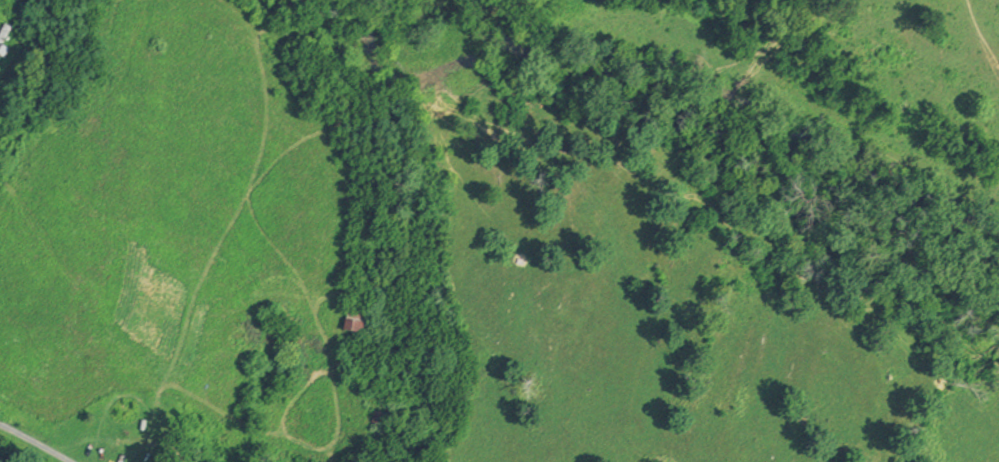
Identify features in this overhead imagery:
building: (8, 40)
building: (363, 320)
building: (385, 417)
road: (35, 443)

